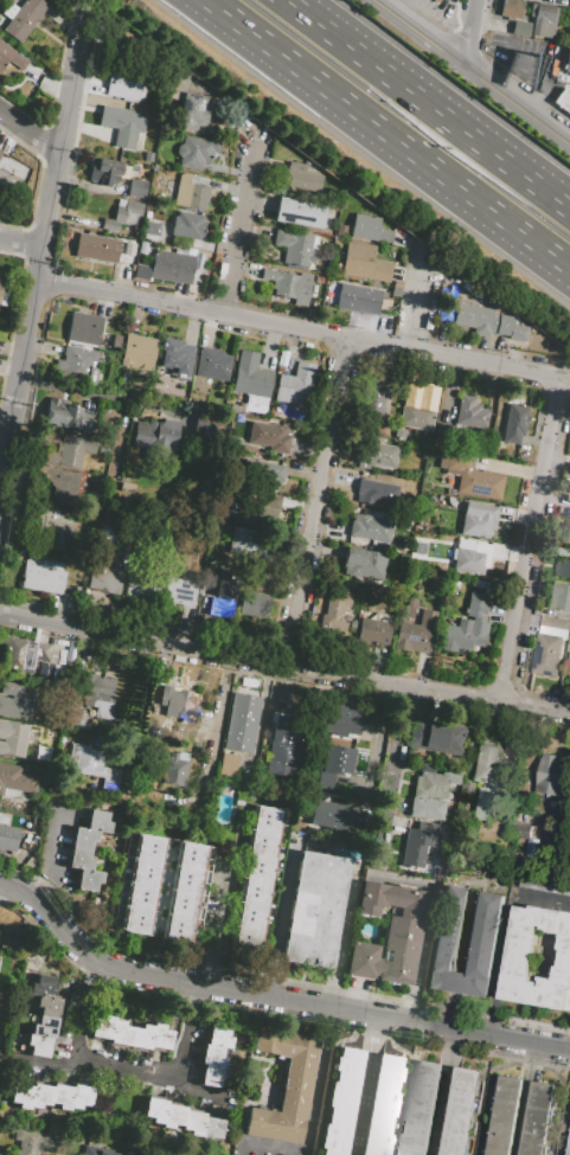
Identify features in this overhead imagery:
building: (437, 1)
road: (84, 7)
building: (512, 8)
parking lot: (433, 13)
building: (24, 18)
building: (543, 19)
building: (520, 28)
road: (468, 30)
building: (569, 34)
building: (11, 58)
building: (568, 62)
road: (474, 68)
building: (129, 76)
building: (175, 81)
building: (563, 100)
road: (428, 103)
building: (192, 111)
building: (122, 124)
road: (28, 131)
road: (386, 134)
building: (0, 150)
building: (196, 152)
building: (148, 156)
building: (104, 172)
building: (300, 178)
building: (137, 188)
building: (191, 192)
building: (299, 213)
building: (122, 214)
road: (242, 225)
building: (187, 226)
building: (370, 229)
building: (152, 230)
building: (340, 230)
road: (20, 243)
building: (337, 243)
road: (41, 245)
building: (296, 246)
building: (97, 248)
building: (364, 263)
building: (168, 268)
building: (320, 280)
building: (1, 284)
building: (288, 284)
building: (359, 299)
road: (422, 308)
building: (475, 317)
building: (84, 328)
building: (510, 328)
road: (302, 329)
building: (116, 341)
building: (139, 351)
building: (174, 359)
building: (212, 364)
building: (76, 365)
building: (250, 376)
building: (126, 380)
building: (295, 385)
road: (88, 391)
building: (377, 398)
building: (416, 410)
building: (469, 413)
building: (66, 416)
building: (515, 425)
building: (145, 434)
building: (165, 435)
building: (270, 436)
building: (50, 437)
building: (103, 450)
building: (69, 451)
building: (374, 455)
building: (263, 473)
building: (470, 476)
building: (60, 485)
building: (126, 487)
building: (377, 493)
road: (318, 500)
building: (268, 505)
building: (242, 514)
building: (478, 519)
building: (50, 527)
building: (370, 527)
building: (566, 530)
road: (531, 538)
building: (244, 547)
building: (467, 560)
building: (364, 565)
building: (564, 569)
building: (41, 575)
building: (108, 579)
building: (143, 584)
building: (180, 591)
building: (561, 597)
building: (258, 598)
building: (475, 605)
building: (218, 607)
building: (409, 608)
building: (335, 611)
building: (556, 622)
building: (373, 631)
building: (416, 633)
building: (463, 636)
building: (70, 653)
building: (26, 654)
building: (62, 655)
building: (551, 656)
road: (284, 661)
building: (97, 694)
building: (17, 700)
building: (178, 704)
building: (75, 717)
building: (339, 719)
building: (242, 723)
building: (150, 726)
building: (435, 737)
building: (12, 738)
building: (283, 739)
building: (165, 744)
road: (372, 747)
road: (210, 763)
building: (334, 764)
building: (228, 765)
building: (95, 766)
building: (174, 768)
building: (551, 775)
building: (17, 778)
building: (434, 779)
building: (485, 779)
building: (465, 789)
building: (427, 808)
building: (327, 814)
building: (4, 819)
building: (97, 821)
building: (8, 839)
building: (83, 839)
building: (530, 841)
building: (417, 843)
building: (373, 858)
building: (79, 859)
building: (257, 875)
building: (88, 879)
building: (545, 884)
building: (141, 885)
building: (182, 892)
building: (314, 910)
road: (280, 919)
road: (214, 923)
building: (448, 930)
building: (386, 935)
road: (505, 937)
building: (9, 943)
building: (519, 960)
building: (43, 986)
road: (269, 996)
building: (46, 1006)
building: (45, 1026)
road: (185, 1029)
building: (130, 1033)
building: (218, 1035)
road: (76, 1040)
building: (37, 1046)
road: (569, 1047)
building: (212, 1055)
road: (149, 1073)
building: (210, 1076)
building: (282, 1086)
building: (20, 1096)
building: (40, 1096)
building: (60, 1096)
building: (81, 1096)
building: (340, 1102)
building: (382, 1105)
building: (422, 1109)
building: (164, 1112)
building: (462, 1112)
building: (506, 1116)
building: (539, 1118)
building: (201, 1125)
building: (31, 1141)
building: (95, 1151)
building: (569, 1153)

